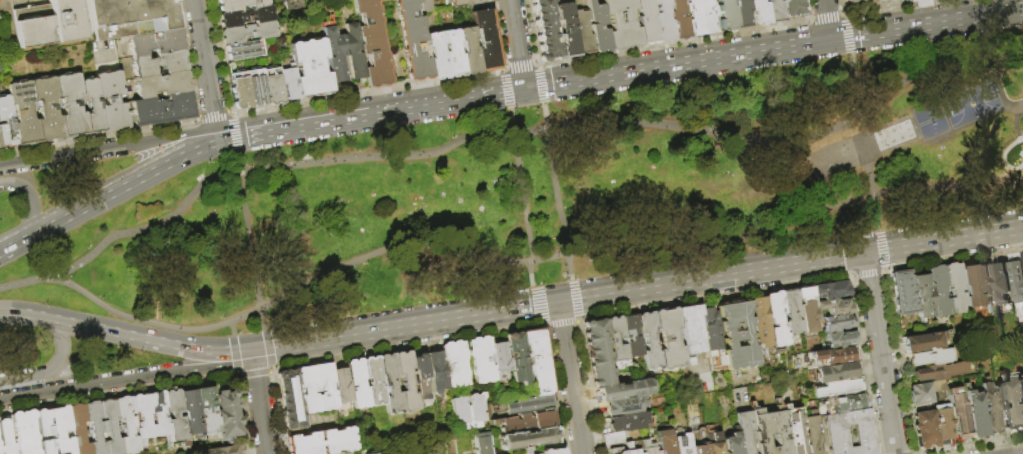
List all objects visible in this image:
building: (896, 0)
building: (913, 0)
building: (874, 1)
building: (464, 3)
building: (863, 3)
building: (240, 4)
building: (293, 5)
building: (794, 8)
road: (901, 8)
building: (775, 11)
building: (750, 13)
building: (727, 15)
building: (247, 16)
building: (702, 16)
road: (827, 16)
road: (844, 16)
building: (81, 17)
building: (128, 17)
road: (827, 17)
road: (812, 19)
building: (680, 20)
building: (647, 22)
building: (663, 22)
building: (48, 23)
building: (623, 24)
building: (598, 27)
building: (546, 30)
building: (567, 30)
road: (532, 31)
building: (582, 32)
building: (249, 33)
road: (499, 34)
traffic signals: (830, 36)
road: (848, 38)
building: (414, 40)
building: (153, 41)
building: (487, 41)
road: (685, 41)
building: (374, 43)
road: (515, 44)
road: (772, 44)
building: (246, 50)
building: (470, 52)
building: (345, 53)
building: (453, 54)
road: (220, 55)
building: (437, 56)
road: (186, 60)
road: (538, 63)
building: (156, 64)
road: (520, 65)
road: (934, 65)
road: (205, 67)
building: (312, 68)
road: (504, 70)
building: (290, 82)
building: (159, 84)
road: (856, 85)
road: (999, 85)
building: (274, 86)
road: (542, 86)
building: (257, 87)
traffic signals: (523, 88)
building: (241, 90)
road: (507, 92)
road: (368, 93)
building: (110, 99)
building: (69, 103)
park: (973, 103)
building: (91, 104)
building: (45, 107)
building: (160, 109)
road: (379, 110)
building: (21, 111)
road: (230, 112)
road: (212, 114)
building: (5, 123)
road: (234, 125)
road: (550, 125)
road: (97, 133)
road: (225, 134)
traffic signals: (216, 136)
road: (202, 142)
road: (236, 144)
road: (111, 146)
road: (227, 146)
road: (3, 163)
road: (239, 163)
road: (871, 171)
road: (558, 192)
road: (94, 199)
road: (519, 199)
park: (498, 201)
road: (31, 203)
road: (123, 233)
road: (952, 238)
road: (252, 249)
road: (880, 249)
road: (873, 251)
traffic signals: (865, 252)
road: (952, 259)
road: (529, 260)
road: (866, 263)
road: (867, 274)
building: (1017, 283)
building: (1002, 284)
building: (956, 287)
building: (972, 288)
building: (987, 288)
building: (828, 289)
building: (939, 290)
building: (904, 294)
building: (923, 296)
road: (159, 297)
road: (711, 297)
road: (573, 300)
road: (558, 301)
traffic signals: (558, 302)
road: (536, 305)
building: (832, 306)
building: (805, 308)
building: (790, 311)
building: (774, 318)
building: (836, 321)
road: (558, 322)
building: (759, 323)
building: (690, 327)
road: (231, 328)
road: (125, 334)
building: (630, 334)
building: (736, 334)
building: (667, 338)
building: (711, 338)
building: (839, 338)
building: (648, 340)
building: (614, 341)
building: (923, 343)
road: (268, 346)
building: (597, 351)
traffic signals: (251, 352)
road: (233, 353)
road: (364, 353)
building: (833, 354)
building: (498, 357)
building: (515, 357)
building: (933, 358)
building: (479, 359)
building: (535, 361)
road: (899, 361)
building: (453, 363)
road: (862, 363)
road: (55, 364)
road: (882, 364)
road: (272, 367)
building: (434, 369)
building: (835, 371)
building: (942, 371)
road: (269, 372)
road: (252, 374)
building: (418, 374)
road: (236, 375)
road: (569, 378)
road: (126, 379)
building: (371, 380)
building: (404, 380)
building: (388, 382)
building: (356, 383)
building: (340, 386)
road: (586, 387)
building: (837, 388)
road: (552, 389)
building: (623, 389)
building: (303, 392)
building: (926, 392)
road: (118, 394)
building: (1019, 399)
road: (259, 402)
building: (844, 402)
building: (526, 405)
building: (623, 405)
building: (1007, 405)
building: (990, 409)
building: (207, 410)
building: (466, 410)
building: (192, 413)
building: (229, 414)
building: (959, 414)
building: (159, 415)
road: (242, 415)
building: (975, 415)
building: (176, 417)
building: (143, 418)
building: (524, 421)
building: (626, 421)
building: (944, 424)
building: (128, 425)
building: (112, 426)
building: (97, 427)
building: (79, 429)
building: (926, 429)
building: (792, 430)
building: (55, 431)
building: (743, 431)
building: (767, 431)
building: (19, 434)
building: (810, 434)
building: (835, 435)
building: (527, 437)
building: (612, 437)
building: (320, 441)
building: (663, 441)
building: (698, 442)
building: (711, 442)
building: (479, 443)
building: (729, 443)
building: (680, 444)
road: (966, 445)
building: (646, 446)
building: (629, 449)
building: (223, 450)
building: (524, 450)
building: (615, 450)
building: (549, 451)
building: (335, 453)
building: (371, 453)

